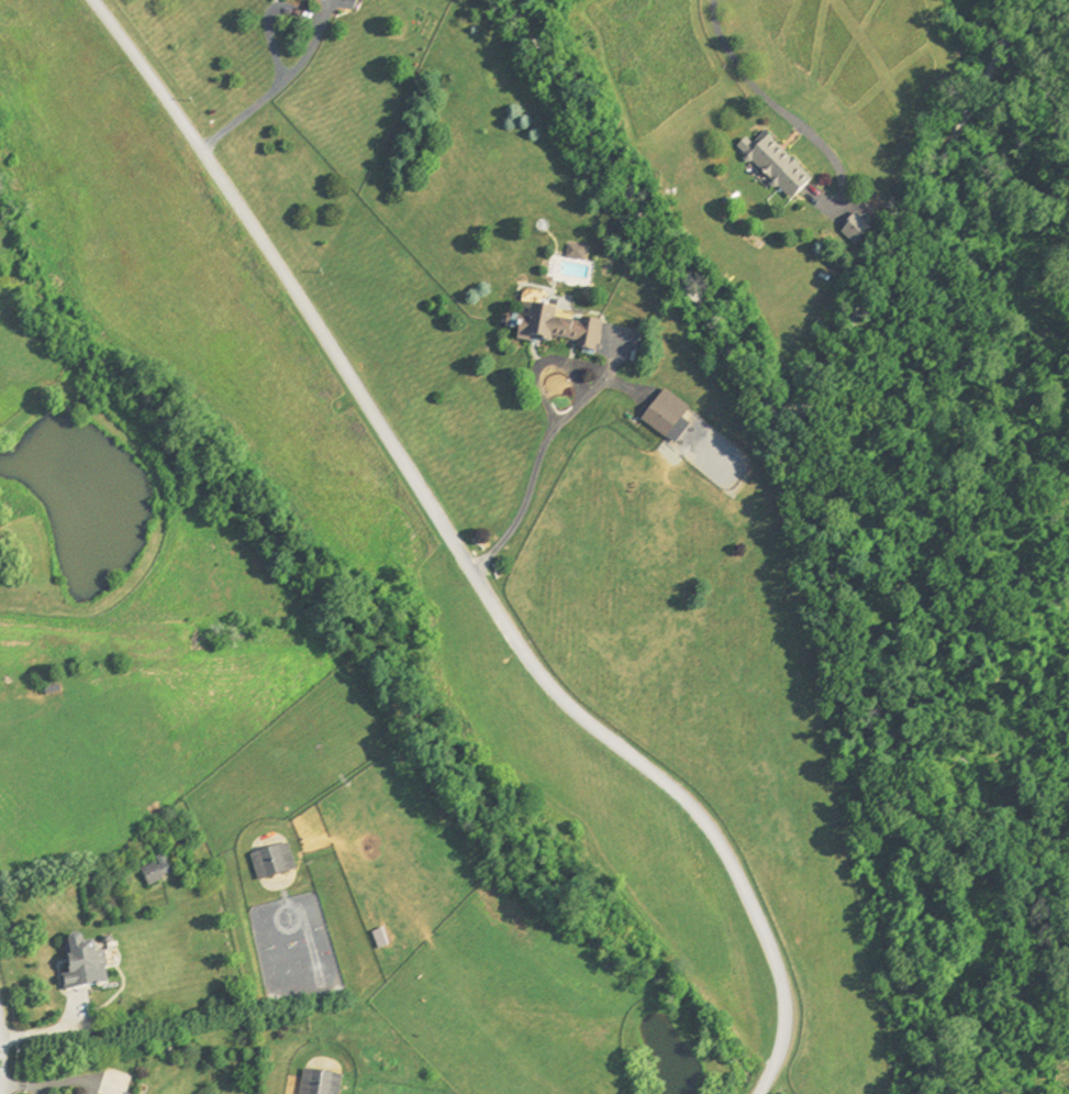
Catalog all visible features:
building: (304, 0)
building: (310, 0)
road: (271, 38)
road: (738, 70)
building: (775, 167)
building: (556, 331)
road: (773, 413)
building: (659, 421)
road: (556, 424)
road: (457, 552)
crop: (142, 696)
building: (270, 863)
building: (153, 873)
building: (313, 915)
building: (81, 965)
building: (316, 1084)

